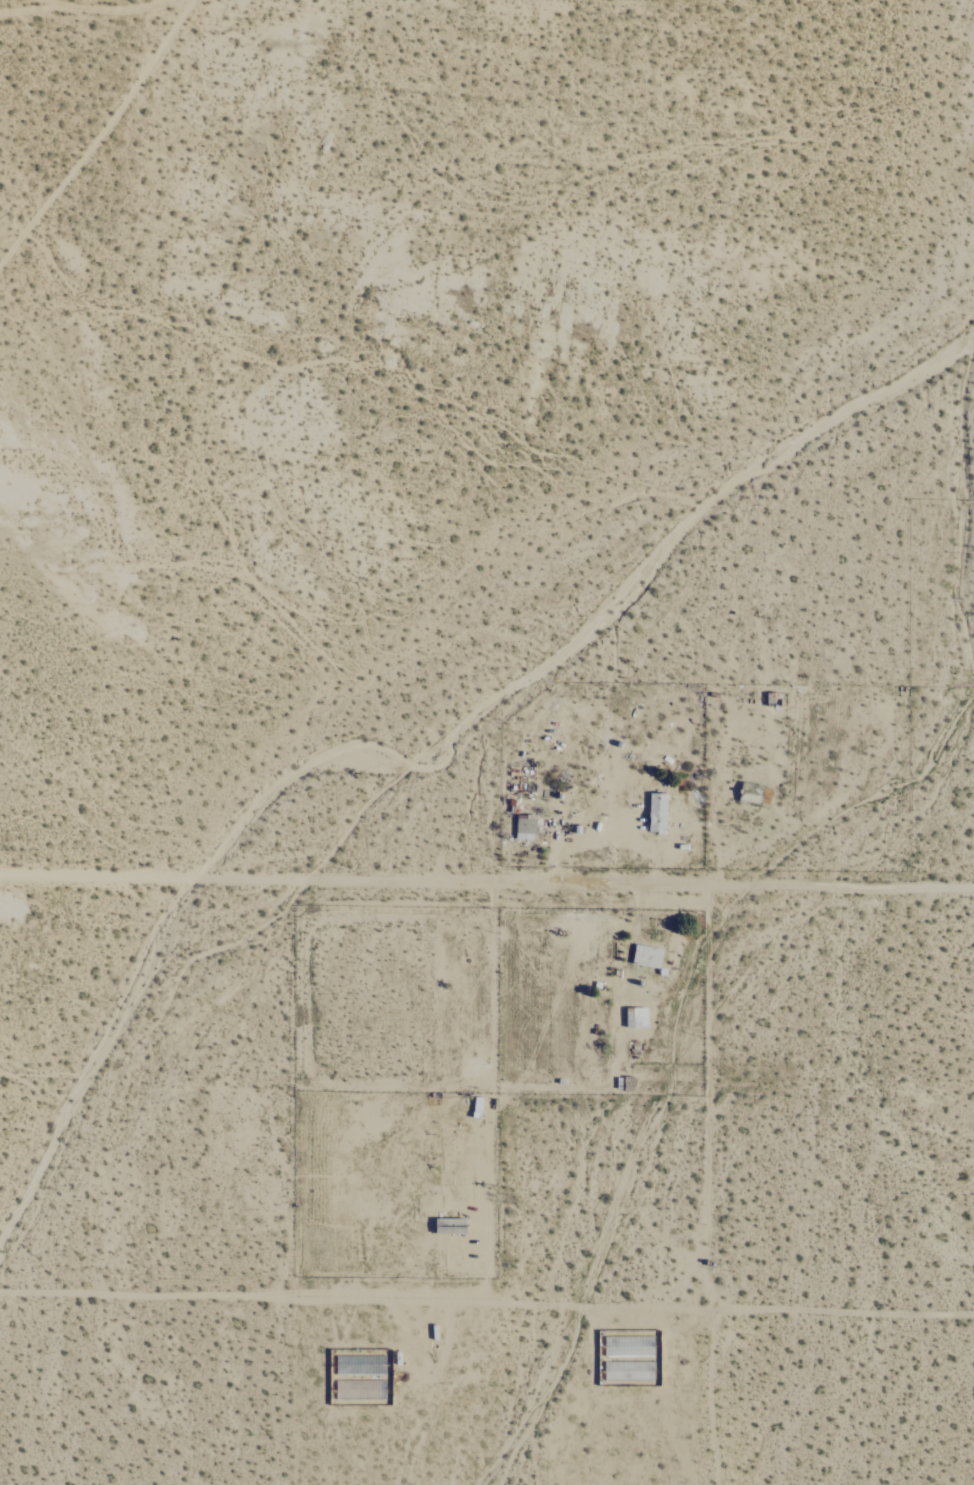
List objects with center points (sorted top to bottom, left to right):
road: (112, 0)
building: (655, 809)
road: (487, 869)
road: (716, 1191)
road: (487, 1297)

